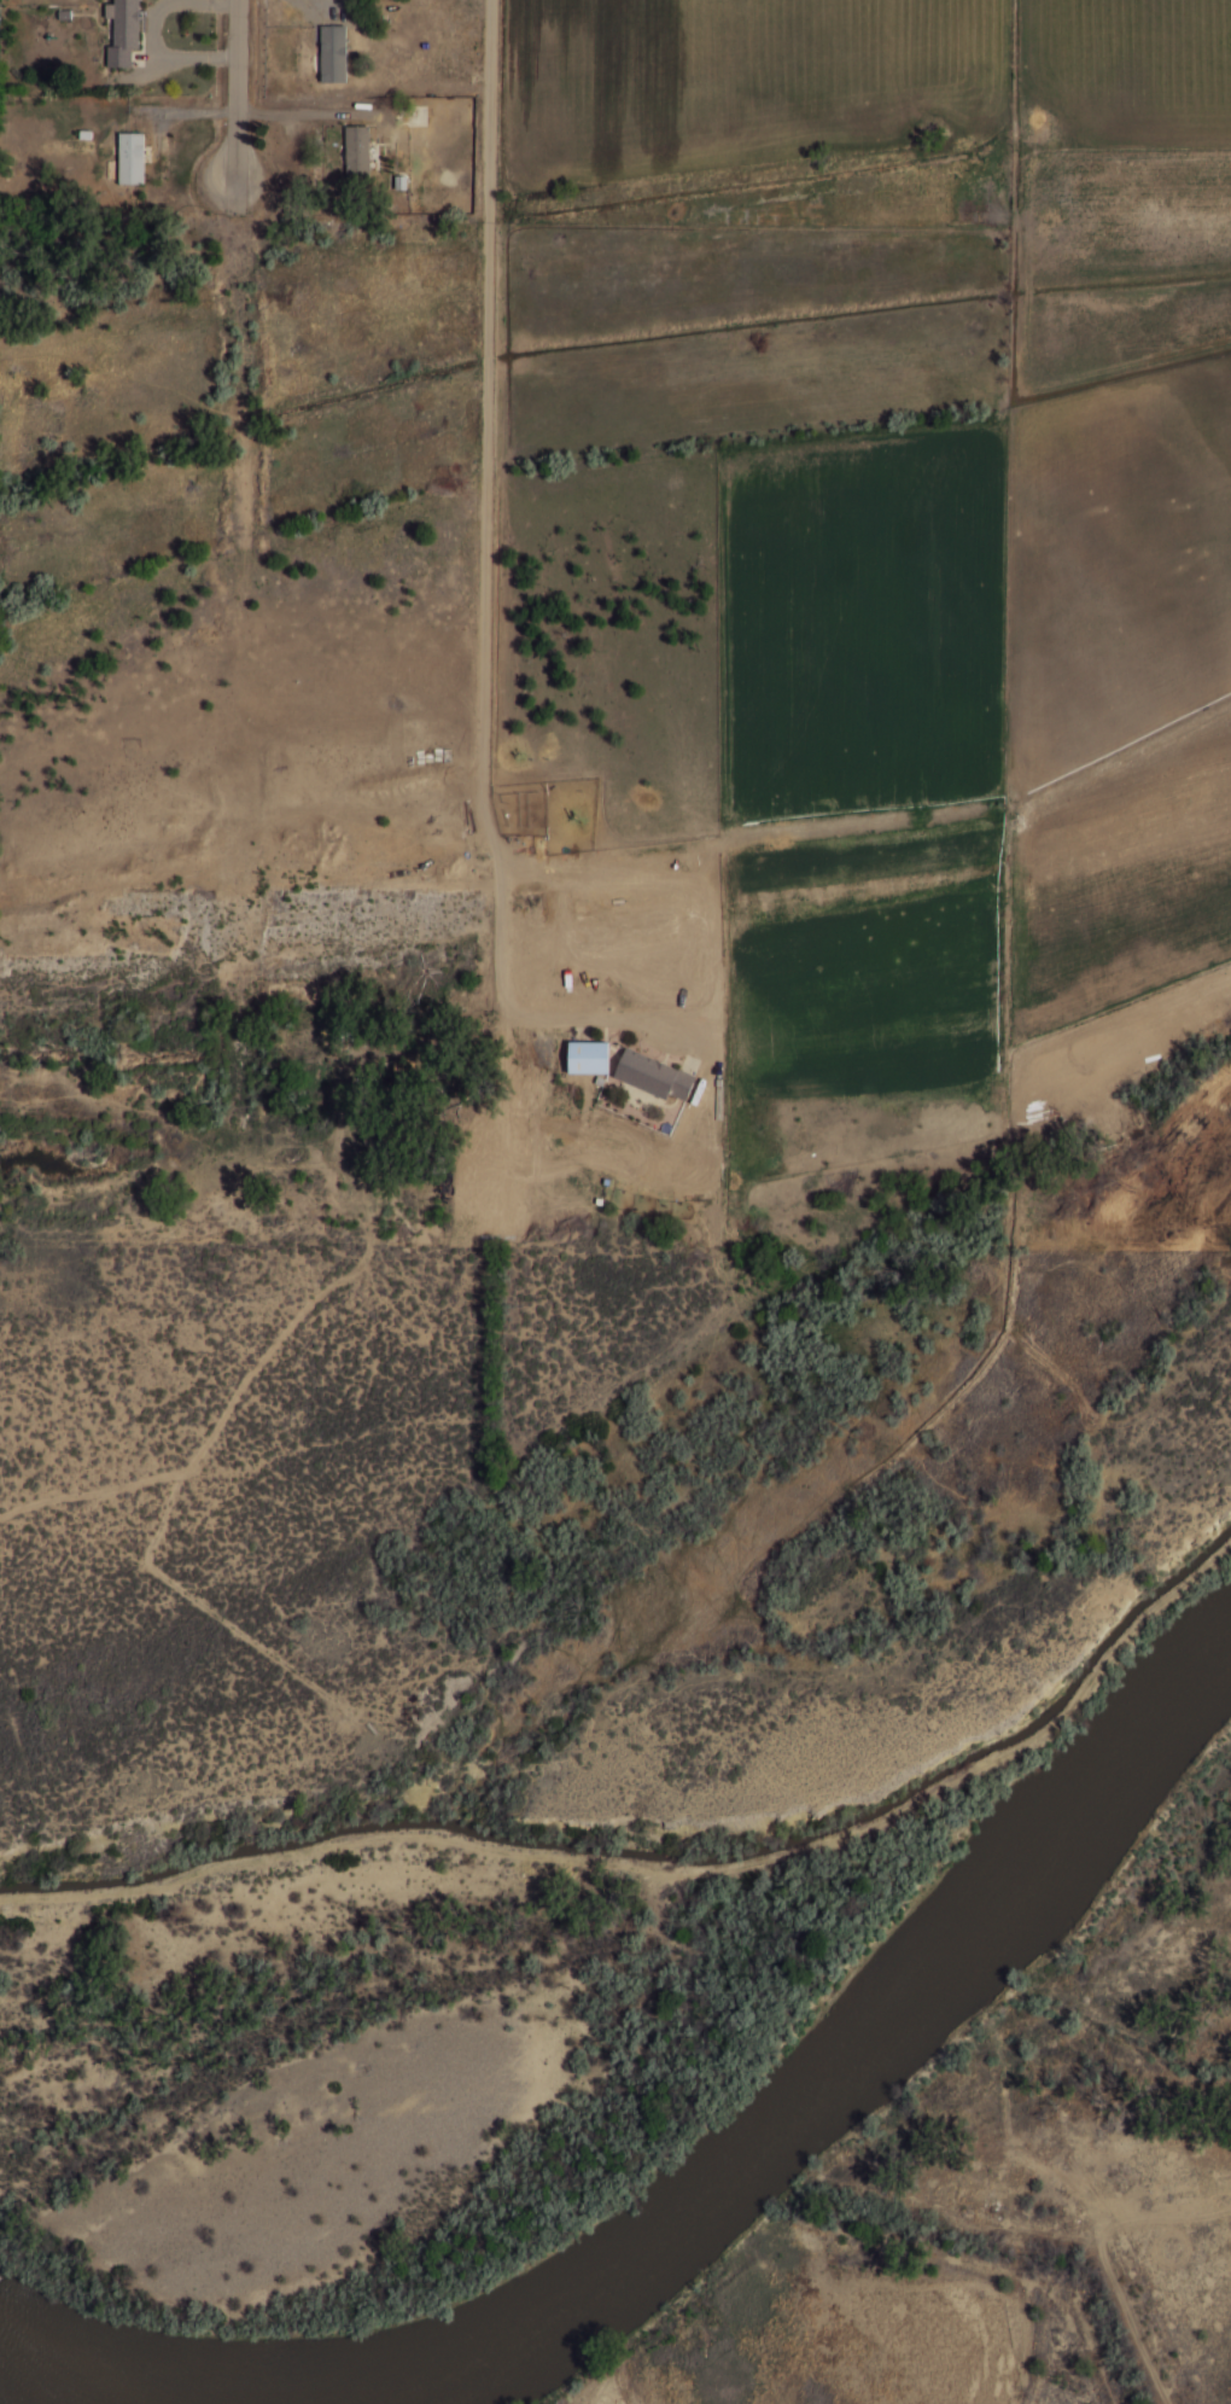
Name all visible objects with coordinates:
building: (124, 33)
building: (334, 54)
building: (358, 153)
building: (132, 158)
road: (486, 582)
building: (278, 898)
building: (587, 1057)
building: (654, 1076)
road: (196, 1485)
river: (862, 2053)
river: (1011, 2248)
river: (31, 2392)

